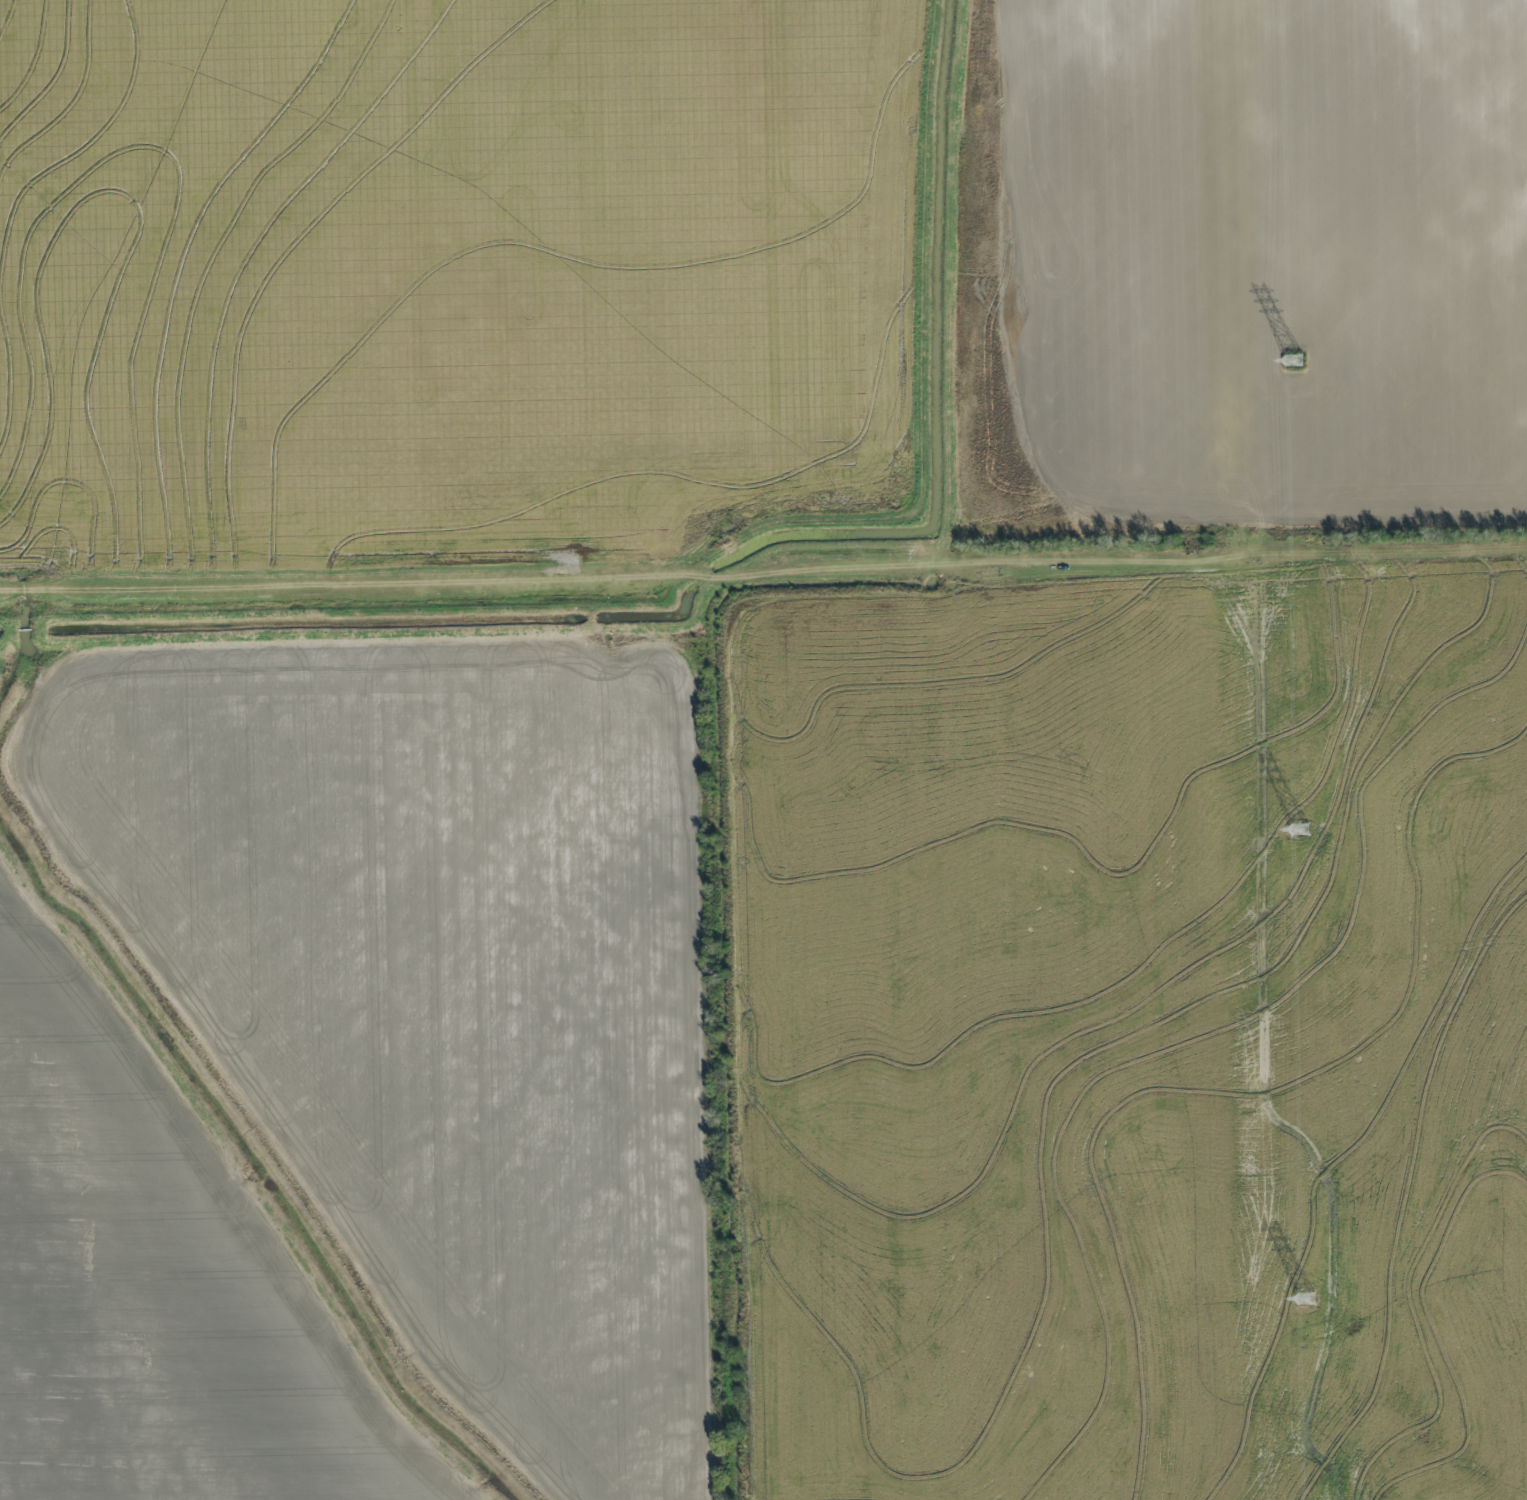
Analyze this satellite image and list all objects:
power tower: (1293, 360)
power tower: (1300, 830)
power tower: (1306, 1298)

